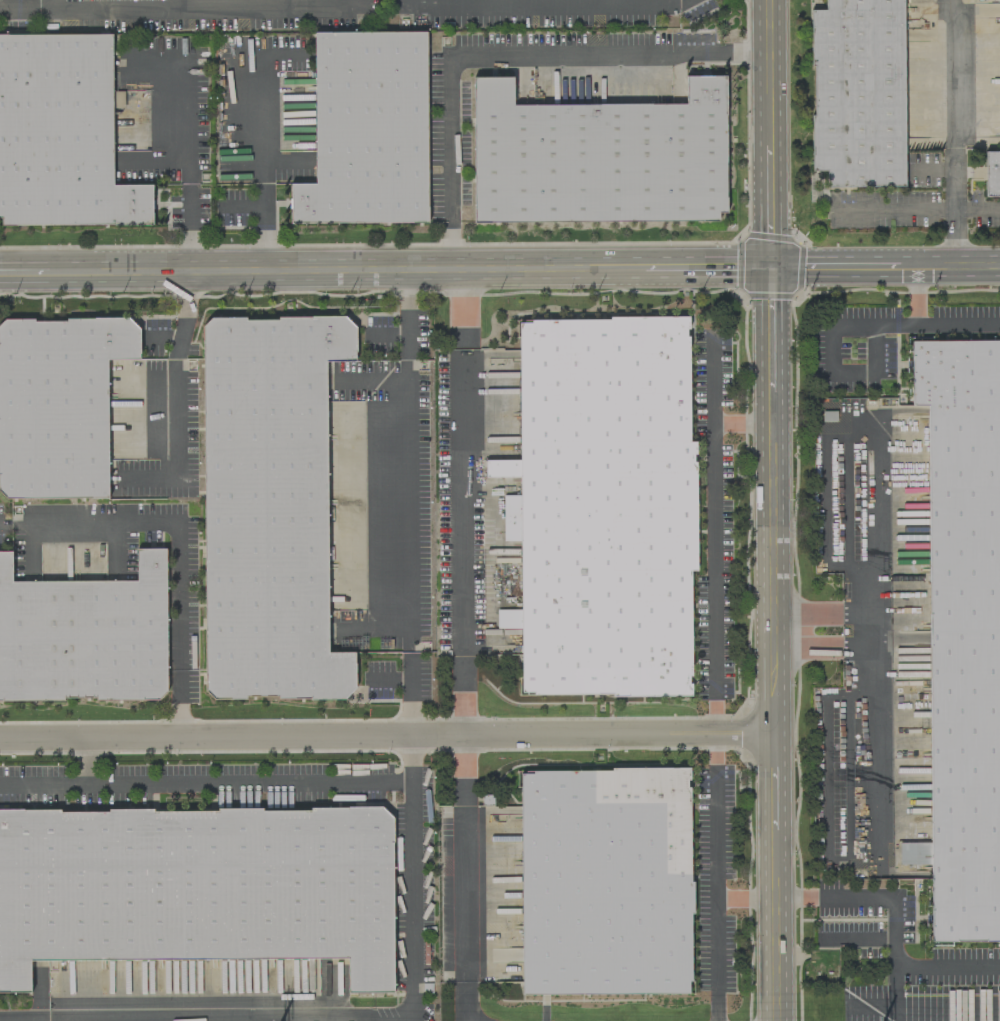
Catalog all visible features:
road: (176, 4)
road: (509, 54)
building: (858, 93)
road: (180, 123)
building: (367, 131)
road: (957, 131)
road: (770, 133)
building: (61, 135)
building: (599, 158)
building: (992, 174)
road: (895, 209)
road: (977, 209)
road: (191, 227)
road: (885, 265)
traffic signals: (771, 267)
road: (385, 269)
road: (916, 294)
road: (404, 314)
road: (936, 323)
road: (834, 372)
road: (178, 400)
building: (55, 407)
road: (743, 423)
road: (772, 500)
road: (463, 501)
road: (406, 506)
building: (269, 508)
building: (602, 508)
road: (875, 523)
road: (83, 527)
road: (715, 538)
building: (81, 627)
road: (183, 627)
road: (872, 631)
building: (963, 632)
road: (409, 694)
road: (746, 734)
road: (358, 736)
road: (873, 740)
road: (90, 765)
road: (208, 788)
road: (718, 815)
building: (195, 877)
road: (775, 877)
road: (465, 878)
road: (418, 879)
building: (606, 883)
road: (747, 896)
road: (896, 925)
road: (718, 959)
building: (823, 967)
road: (896, 995)

